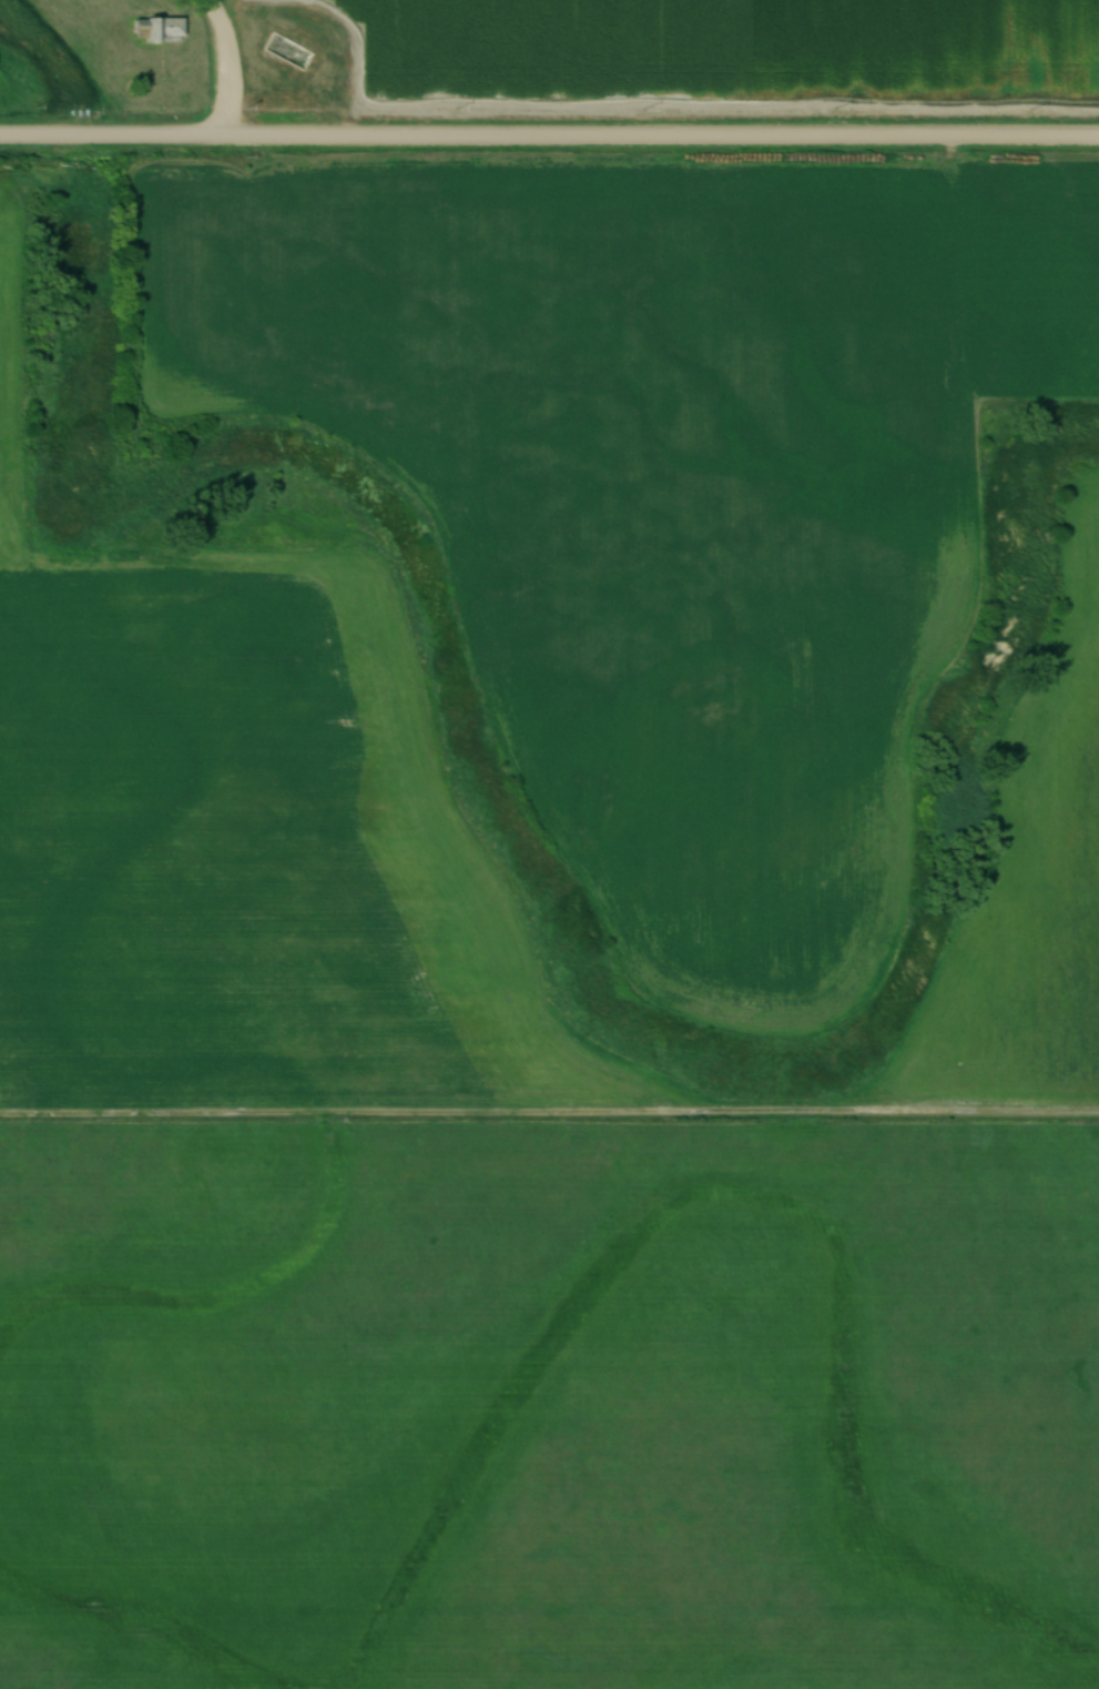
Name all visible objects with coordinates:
building: (155, 31)
road: (225, 64)
road: (549, 140)

